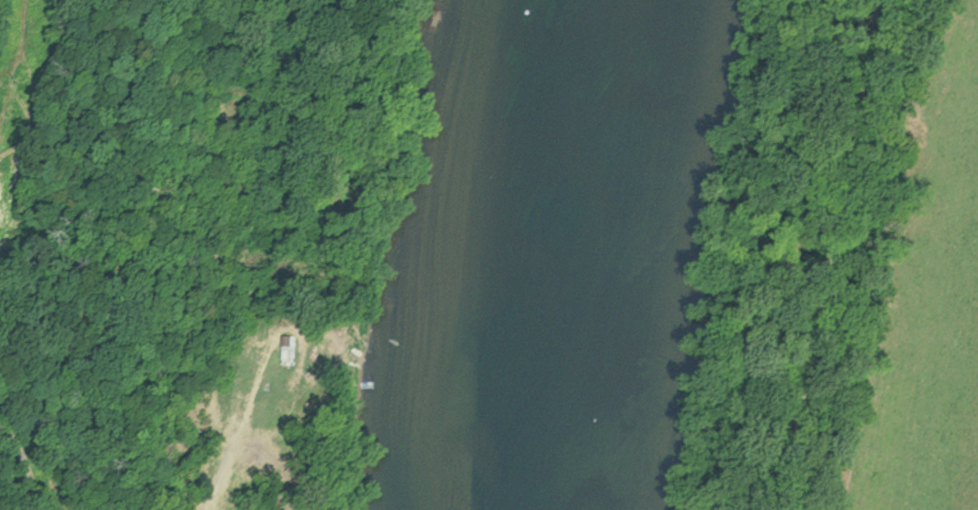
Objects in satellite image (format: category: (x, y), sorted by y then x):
road: (831, 254)
river: (559, 255)
building: (293, 342)
road: (24, 472)

